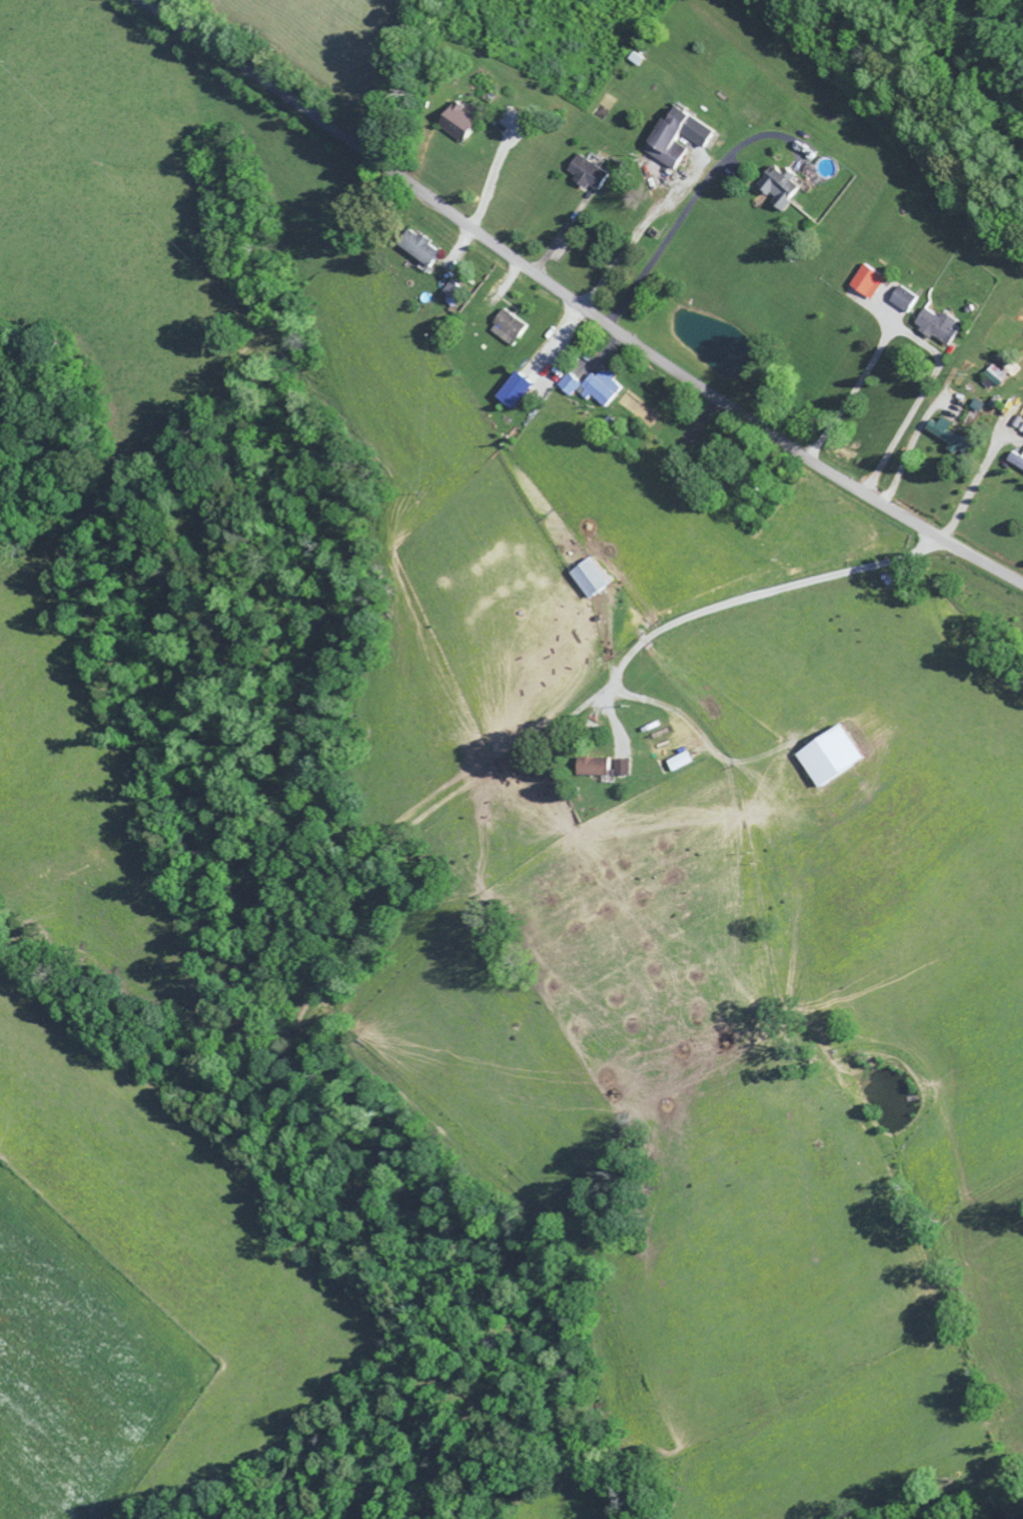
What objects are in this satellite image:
building: (461, 126)
building: (677, 140)
building: (587, 176)
building: (782, 190)
building: (420, 252)
building: (868, 284)
building: (452, 293)
building: (904, 302)
road: (574, 303)
building: (938, 328)
building: (507, 331)
building: (591, 391)
building: (515, 394)
building: (1021, 414)
building: (950, 440)
building: (1015, 463)
building: (591, 582)
road: (754, 603)
building: (831, 760)
building: (592, 770)
building: (621, 770)

